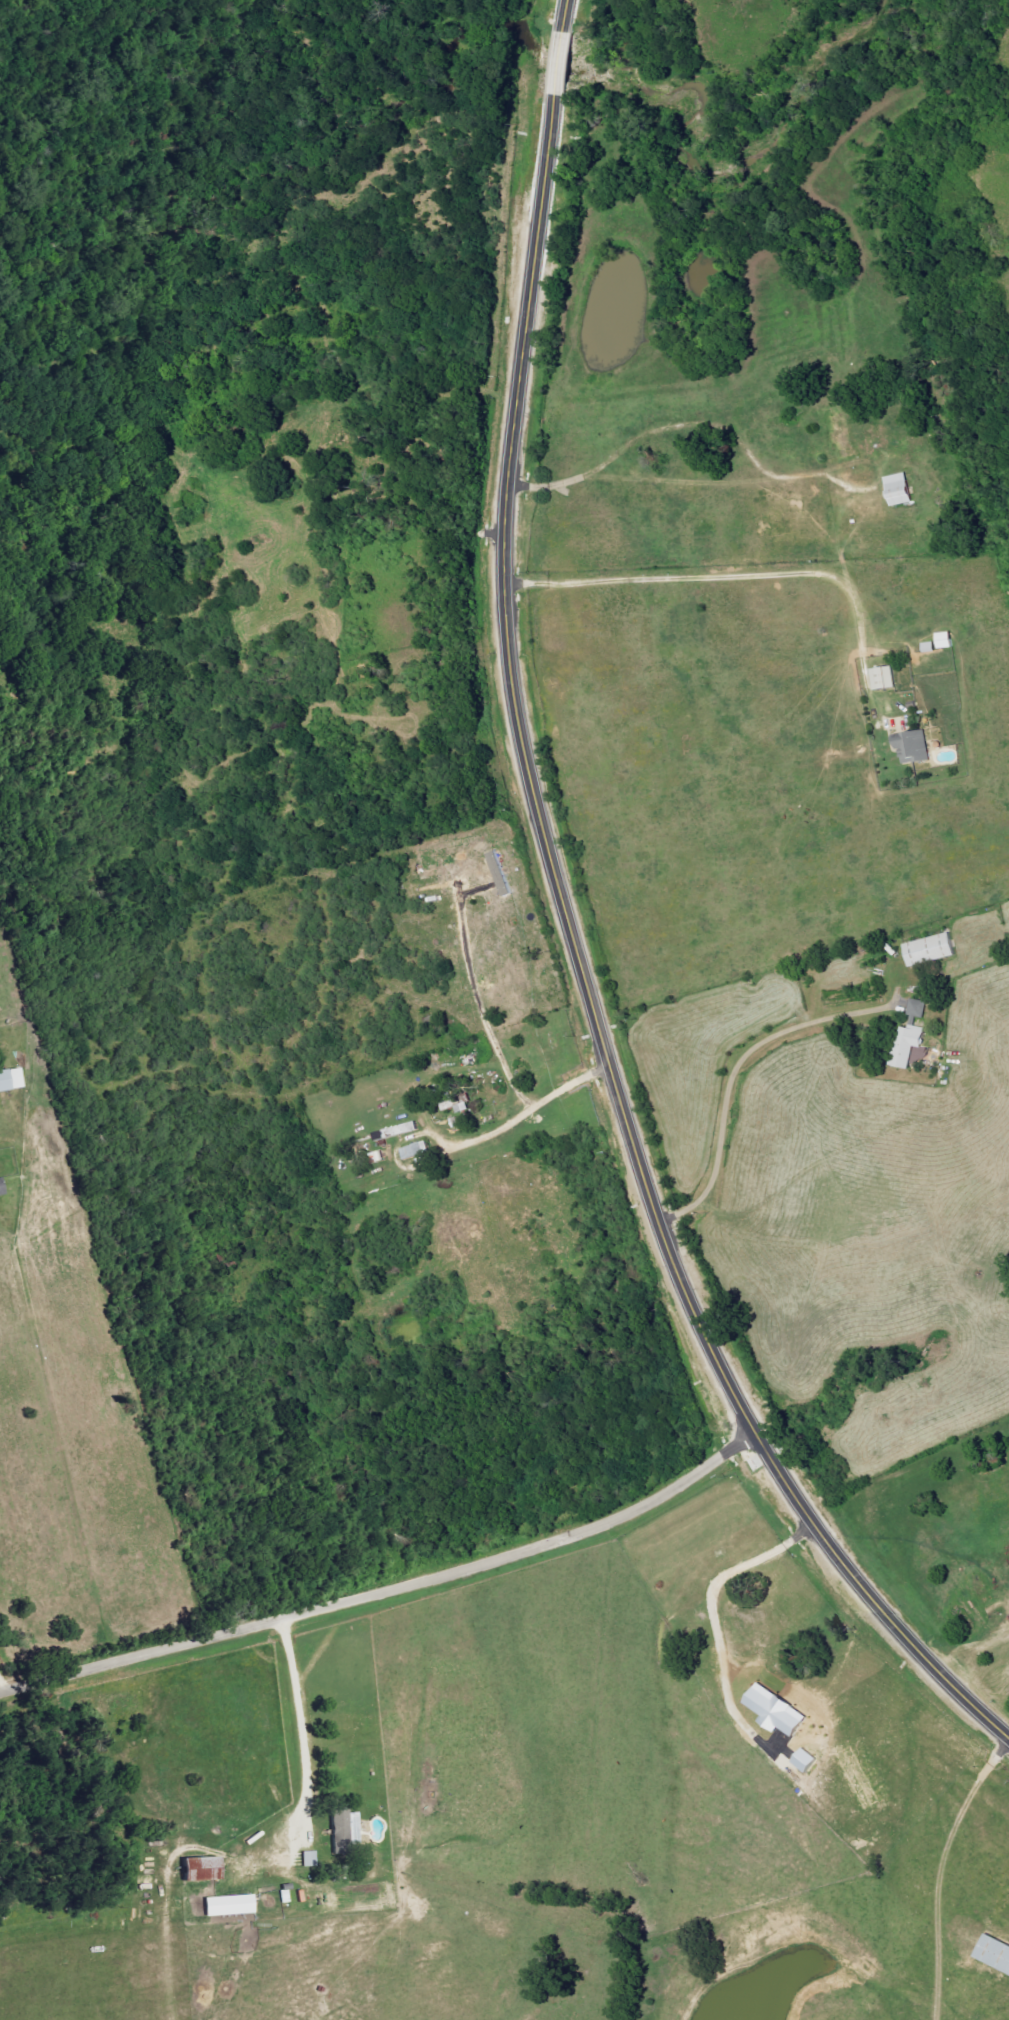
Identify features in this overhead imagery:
park: (959, 254)
building: (903, 489)
road: (712, 561)
building: (948, 639)
building: (932, 646)
building: (887, 678)
building: (918, 747)
road: (575, 926)
building: (933, 949)
building: (920, 1007)
building: (911, 1043)
road: (736, 1071)
building: (12, 1079)
road: (530, 1110)
building: (399, 1131)
building: (417, 1150)
building: (2, 1187)
road: (391, 1592)
road: (2, 1685)
road: (300, 1727)
building: (347, 1828)
building: (311, 1859)
building: (204, 1870)
building: (231, 1906)
building: (998, 1952)

